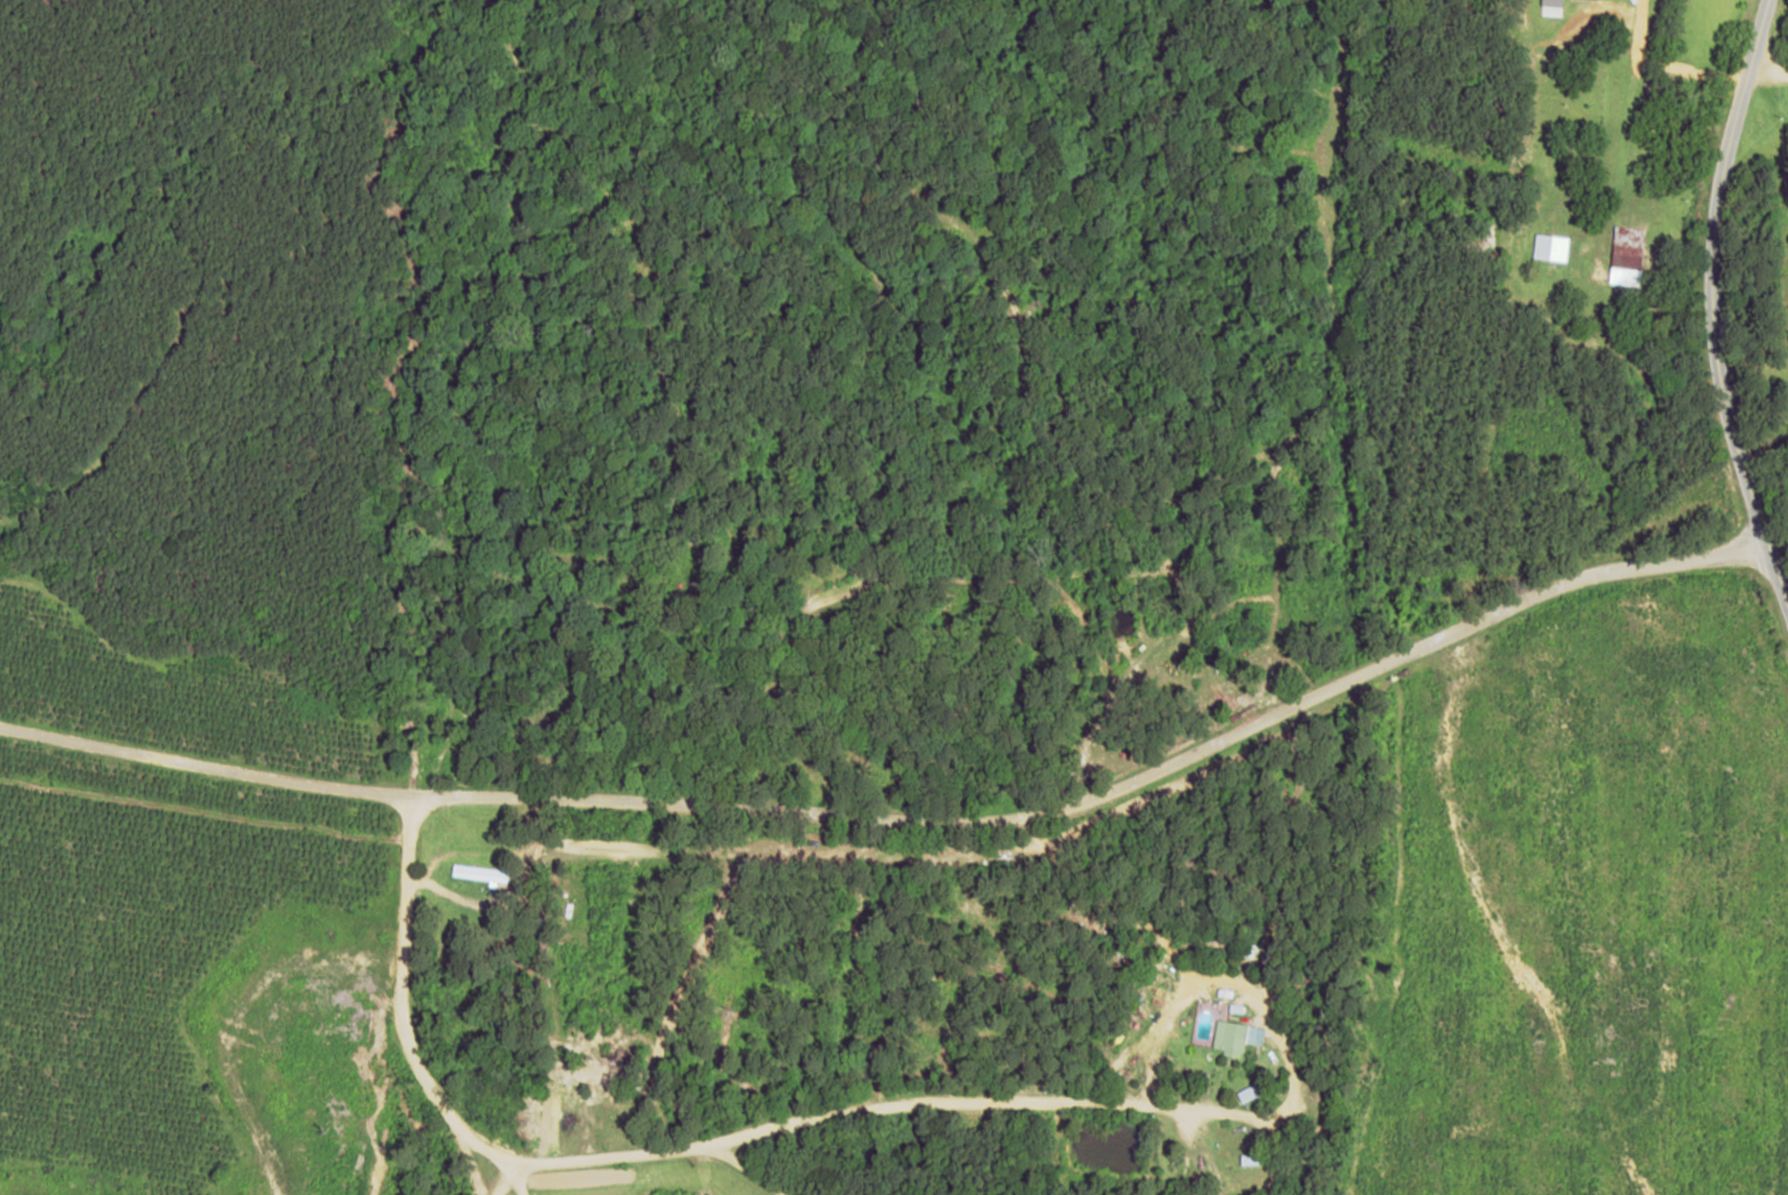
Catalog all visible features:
building: (1550, 2)
building: (1550, 247)
building: (1626, 255)
road: (1698, 314)
road: (908, 858)
building: (479, 874)
road: (384, 1028)
building: (1235, 1035)
building: (1247, 1092)
road: (831, 1105)
road: (738, 1165)
road: (493, 1182)

